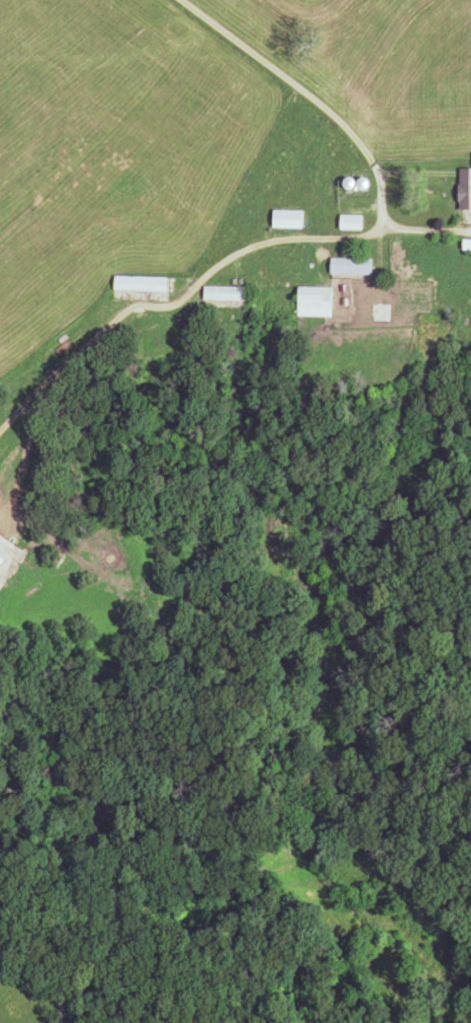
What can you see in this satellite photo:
building: (466, 188)
building: (289, 218)
building: (354, 222)
building: (353, 265)
building: (143, 282)
building: (227, 292)
building: (317, 301)
building: (2, 564)

